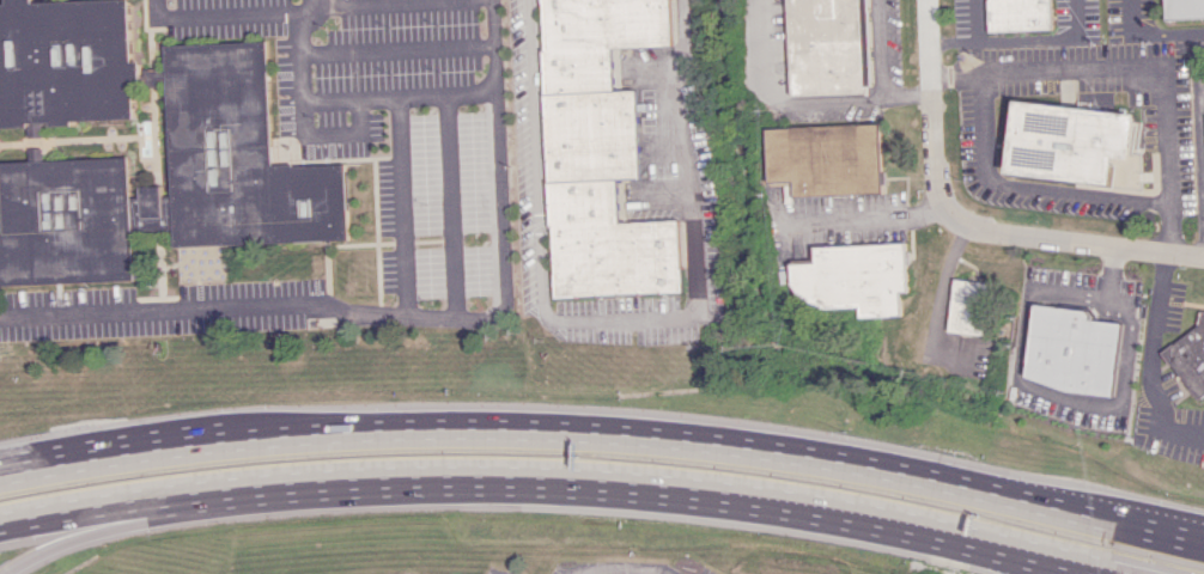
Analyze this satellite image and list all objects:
building: (1182, 8)
road: (220, 13)
building: (1018, 14)
road: (977, 19)
road: (1149, 35)
road: (1020, 37)
building: (831, 47)
building: (66, 62)
road: (1137, 65)
road: (1199, 80)
road: (442, 93)
road: (825, 97)
road: (1197, 121)
building: (1074, 143)
building: (602, 151)
building: (827, 158)
building: (169, 182)
road: (1023, 185)
road: (863, 219)
road: (966, 225)
road: (1200, 230)
road: (401, 275)
building: (856, 277)
road: (1094, 299)
road: (1119, 303)
building: (971, 306)
road: (201, 312)
road: (620, 318)
building: (1074, 349)
building: (1188, 356)
road: (1150, 362)
road: (1074, 395)
road: (698, 439)
road: (158, 446)
road: (379, 475)
road: (783, 497)
road: (108, 501)
road: (1137, 525)
road: (115, 530)
road: (1077, 560)
road: (622, 569)

